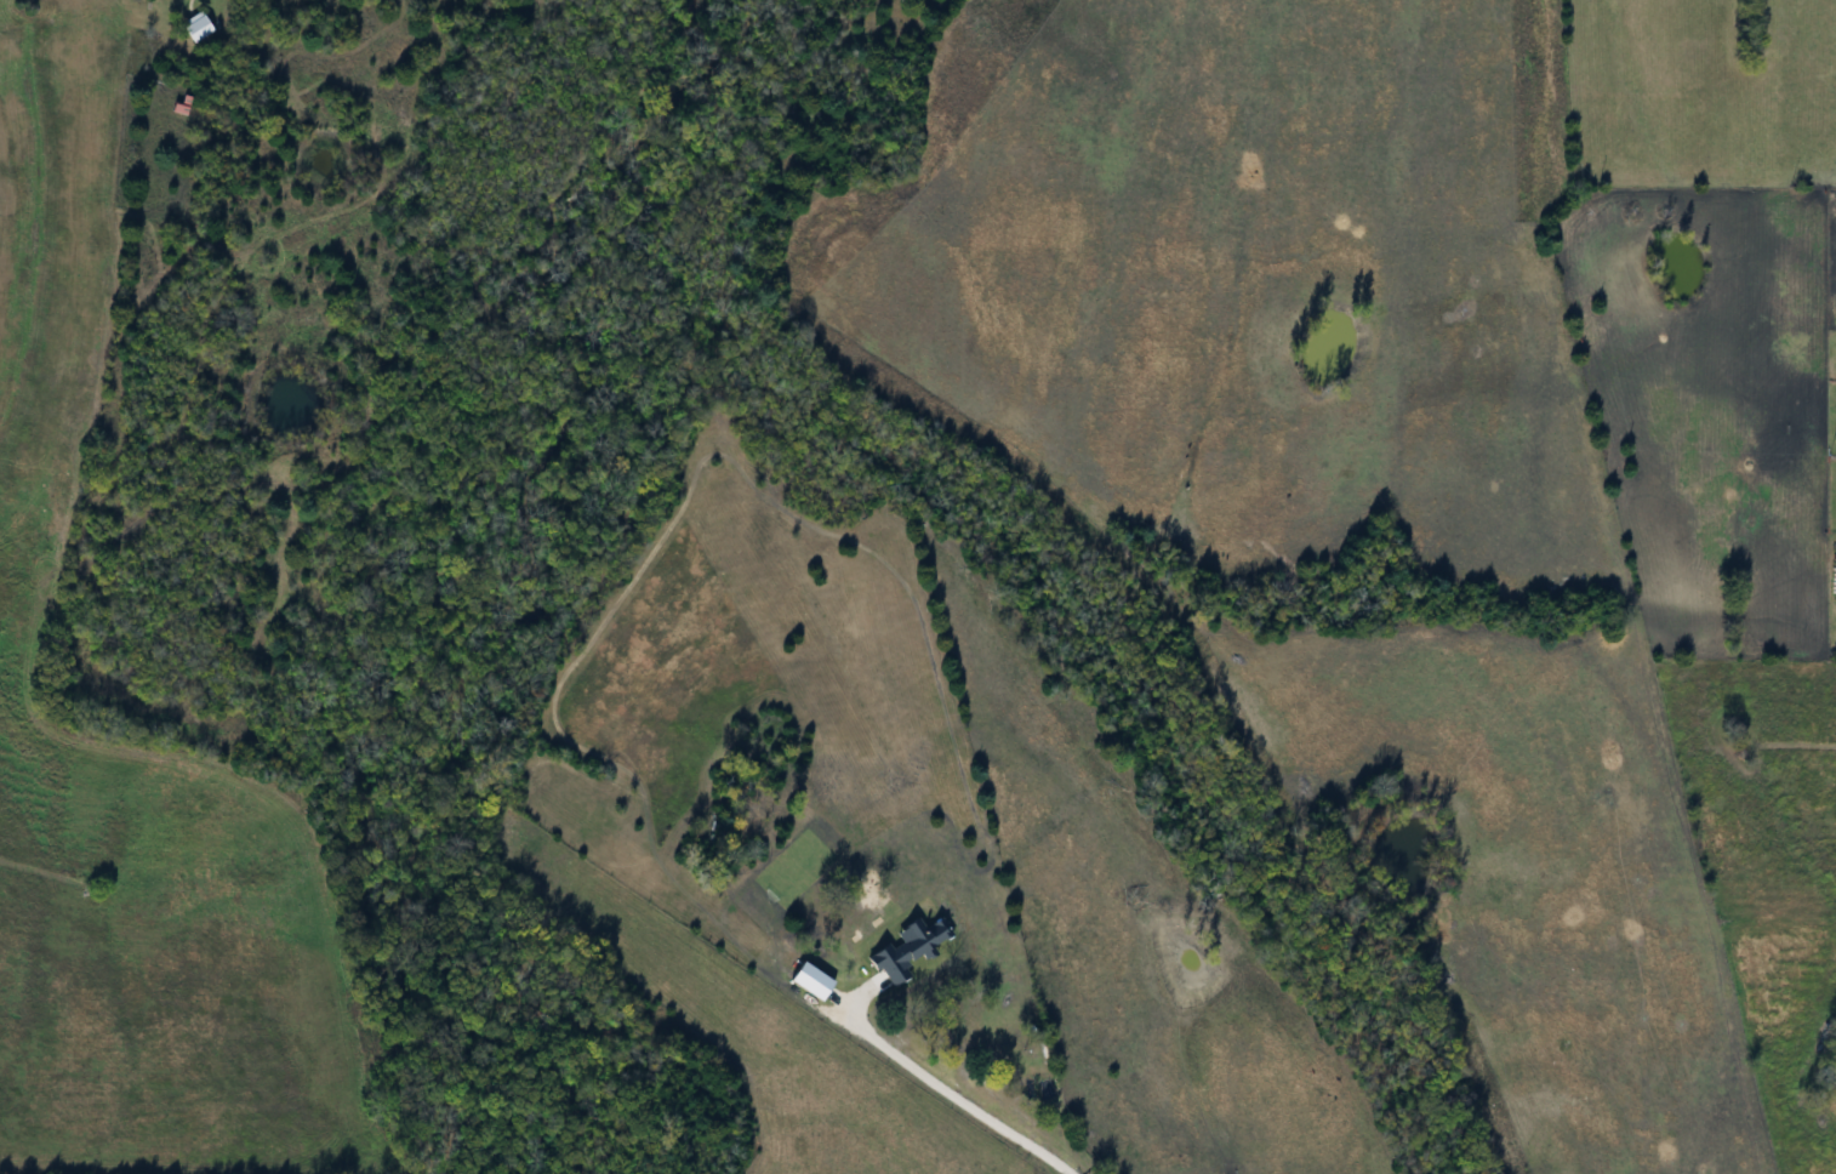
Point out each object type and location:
building: (199, 28)
building: (958, 1037)
road: (956, 1092)

